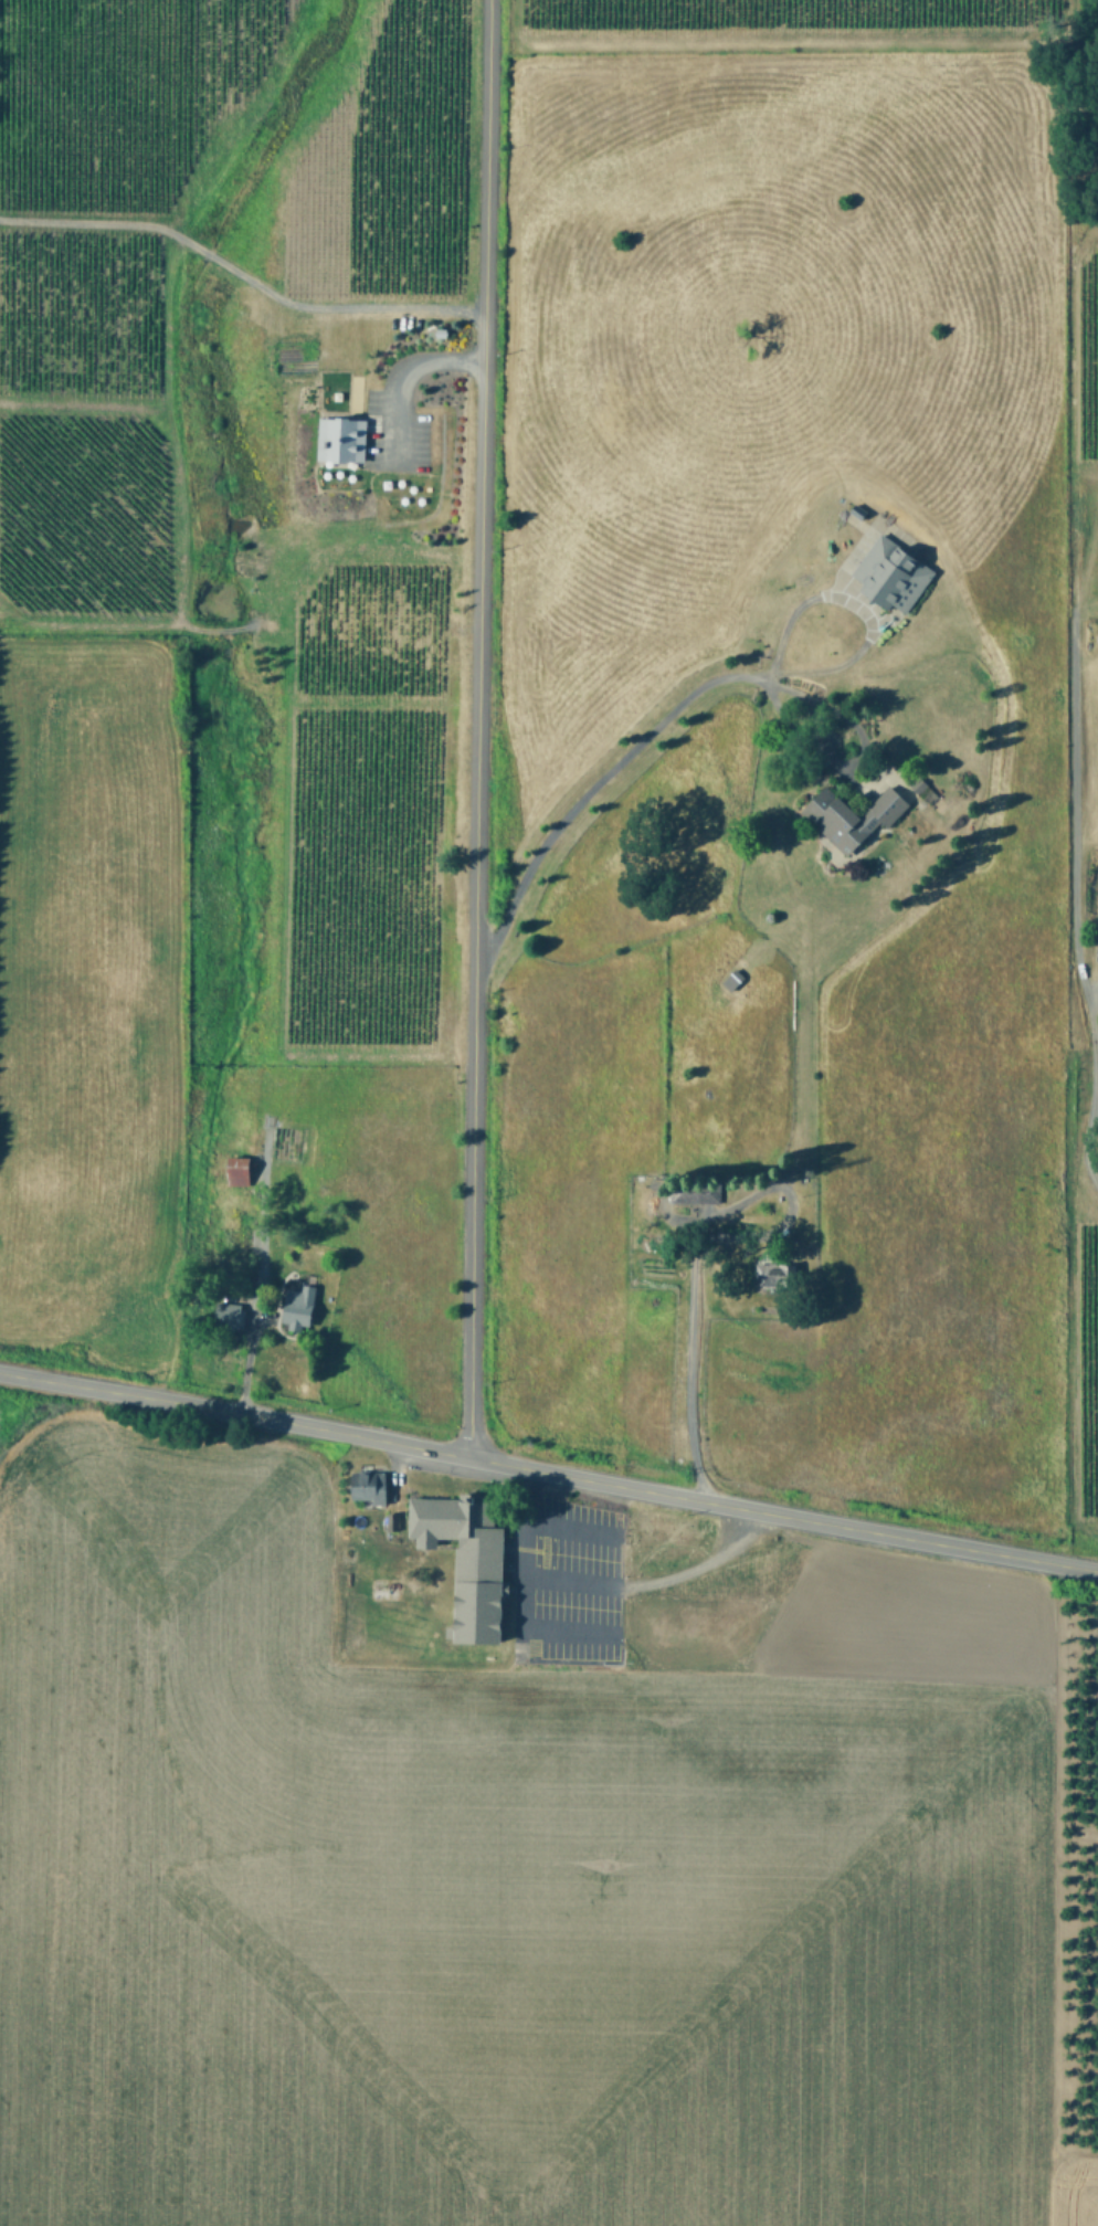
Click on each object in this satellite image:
road: (239, 278)
road: (402, 374)
building: (347, 436)
building: (897, 571)
road: (694, 692)
road: (477, 728)
crop: (557, 730)
building: (925, 787)
building: (856, 814)
road: (1087, 821)
road: (1086, 1135)
building: (242, 1169)
building: (698, 1195)
building: (779, 1269)
road: (690, 1295)
building: (305, 1307)
building: (232, 1312)
road: (548, 1473)
building: (372, 1485)
building: (474, 1560)
road: (654, 1583)
road: (518, 1592)
crop: (522, 1860)

